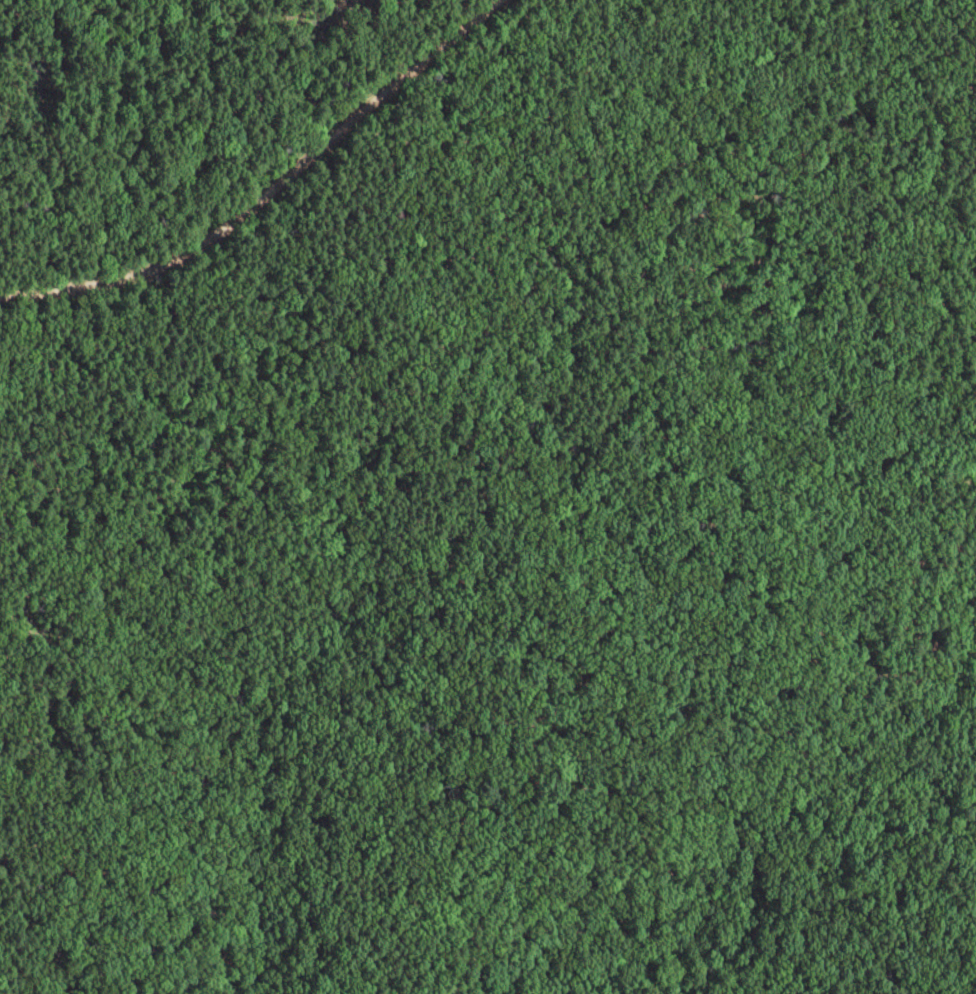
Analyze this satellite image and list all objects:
road: (280, 188)

